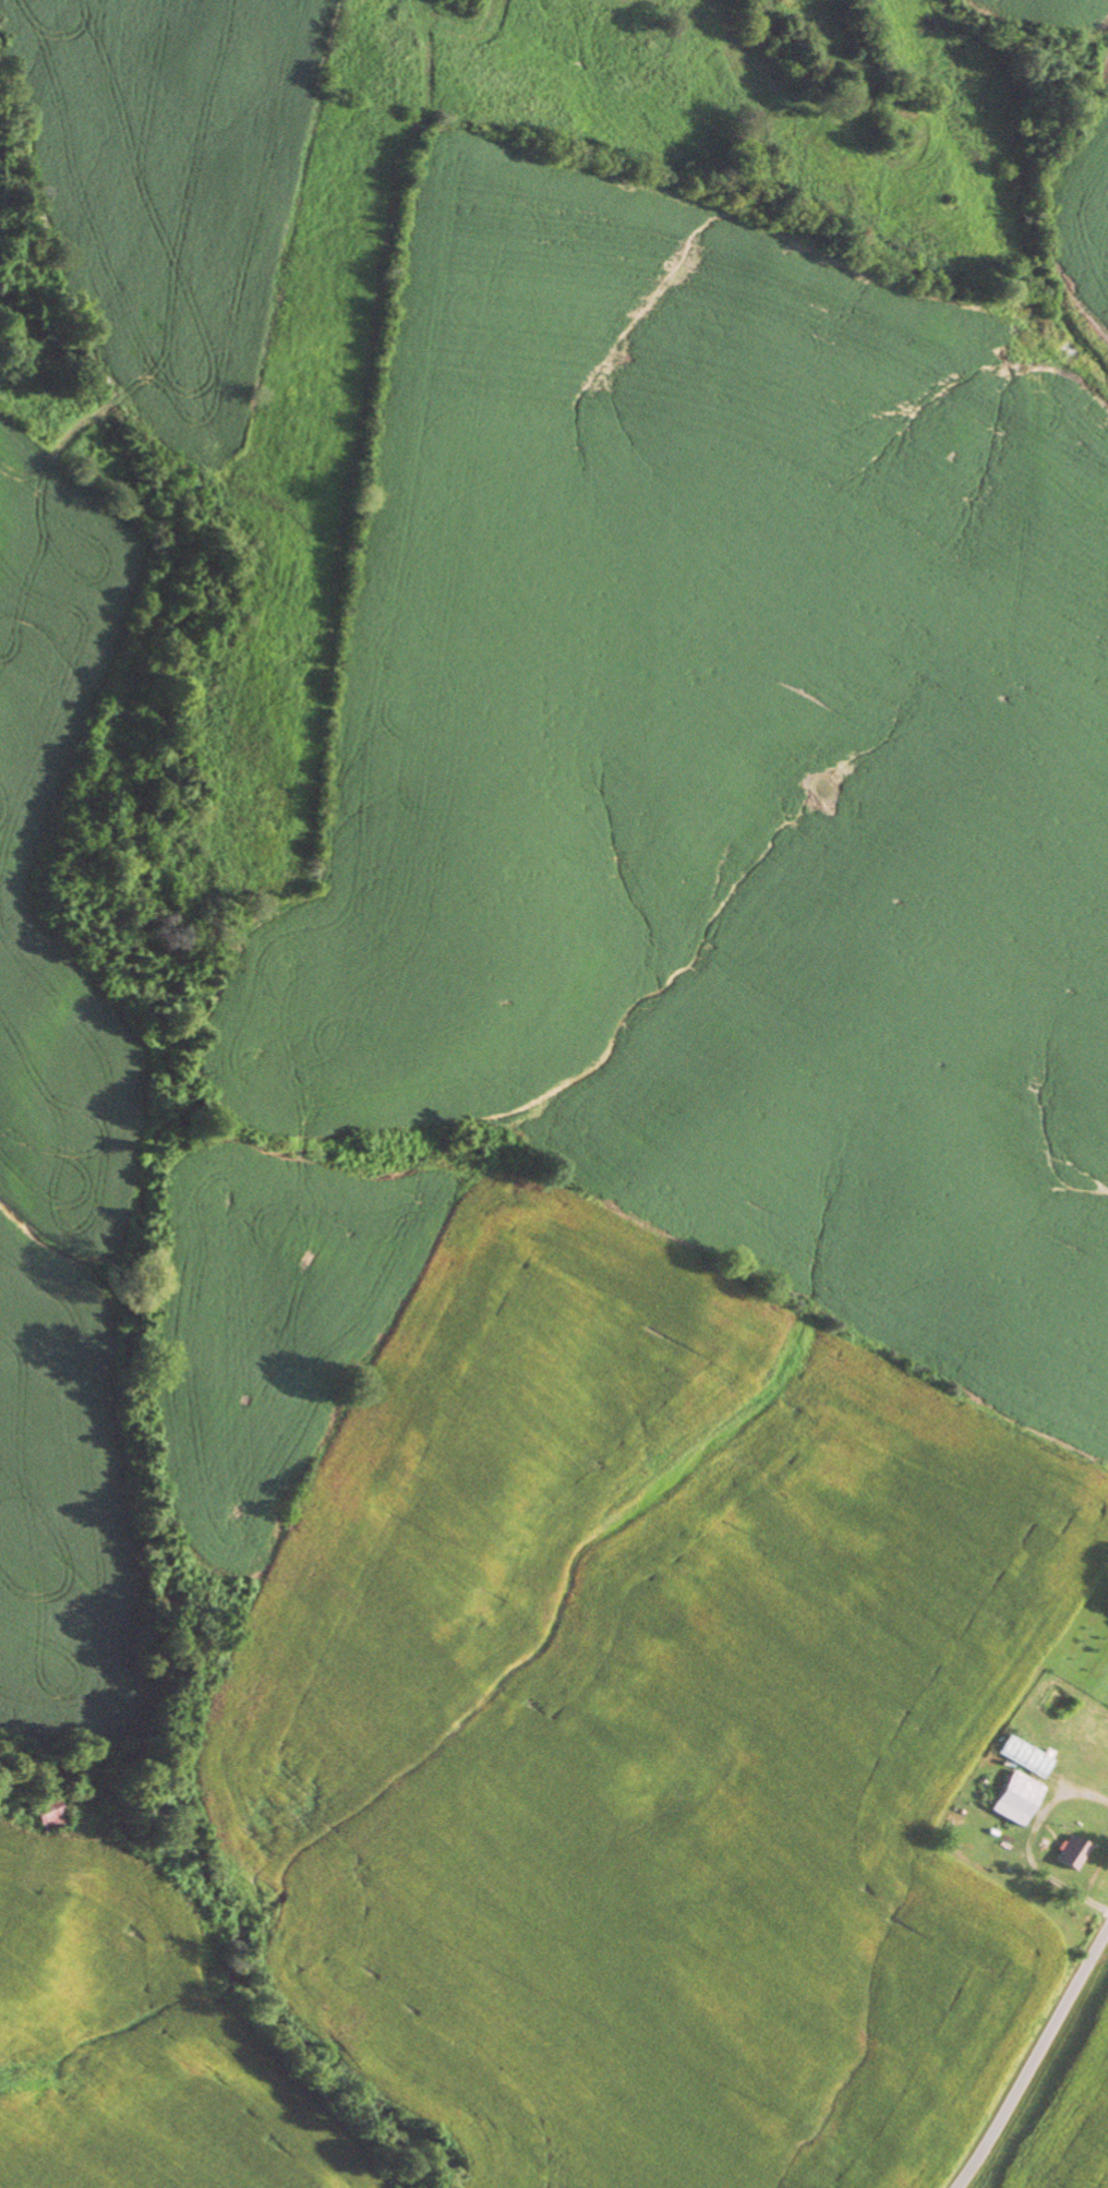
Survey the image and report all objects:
building: (1015, 1800)
building: (1071, 1855)
road: (1036, 2064)

